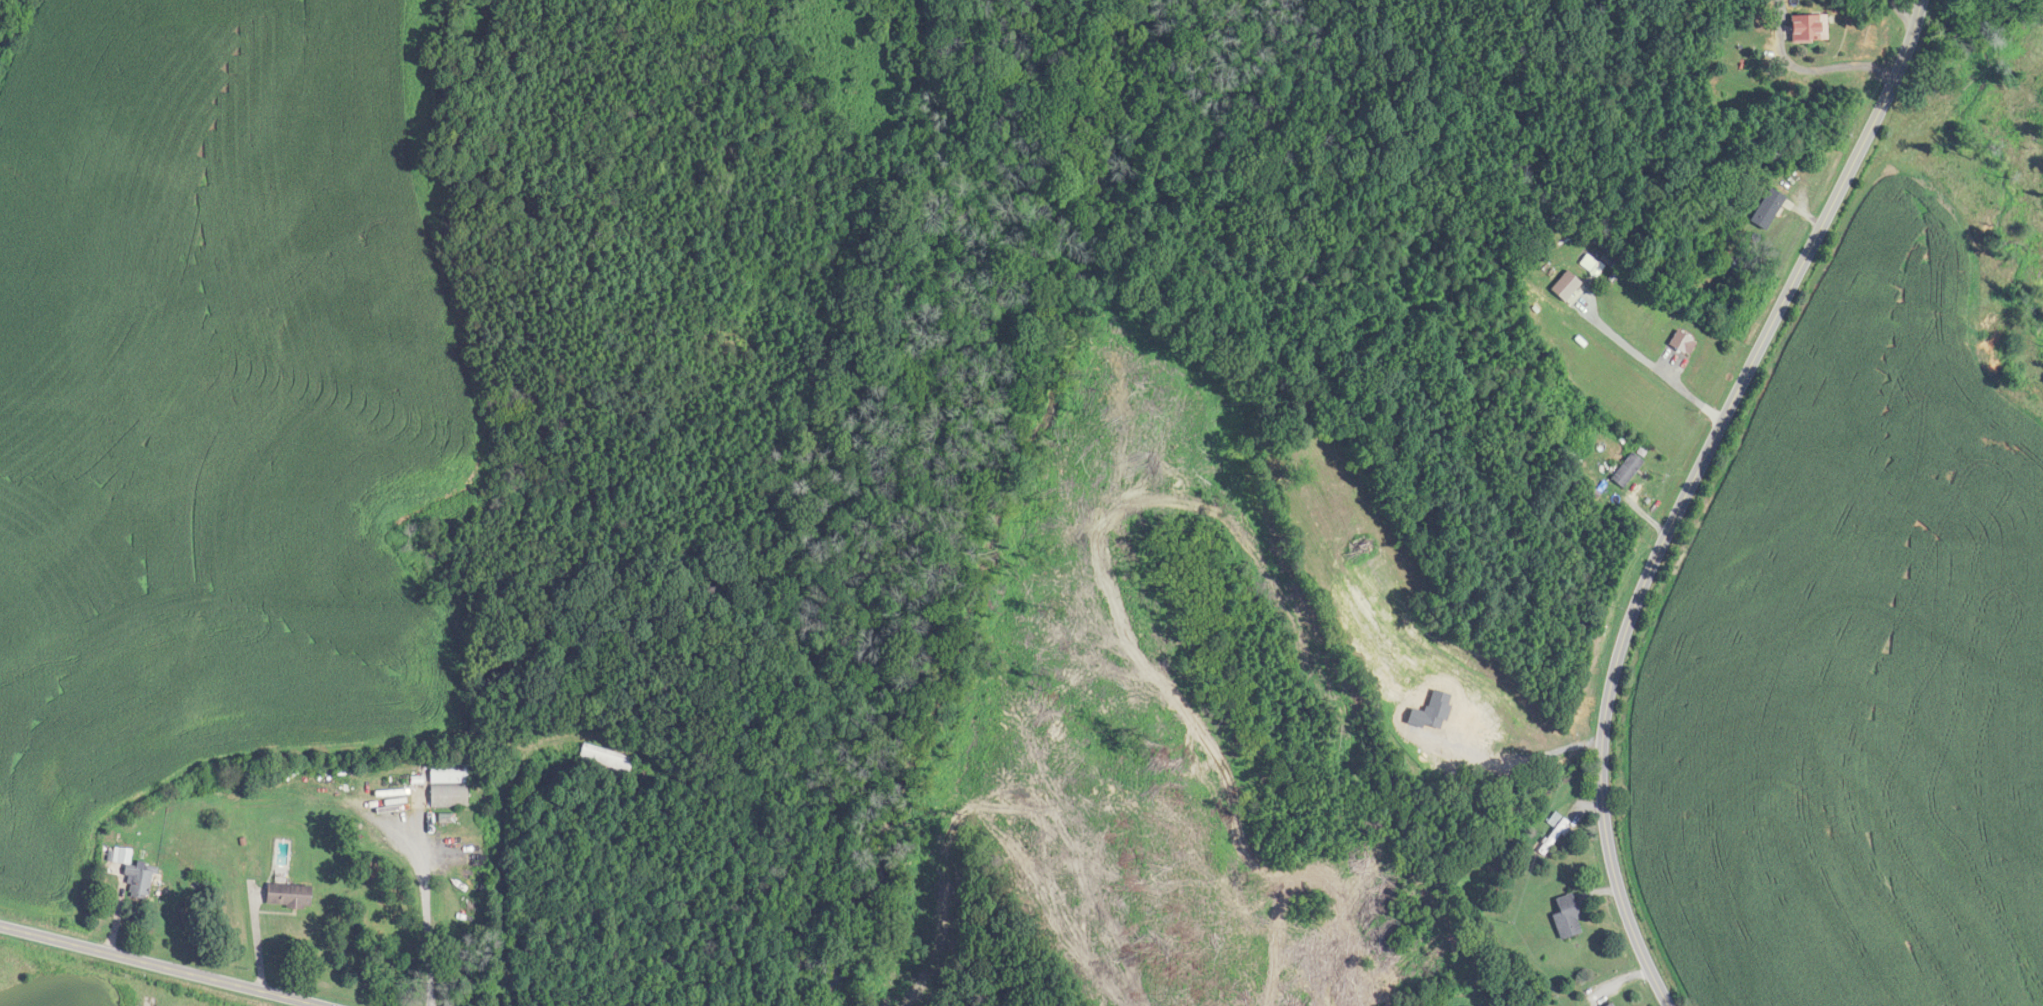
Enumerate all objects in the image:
road: (1904, 13)
road: (1810, 70)
building: (1771, 209)
building: (1685, 343)
road: (1653, 365)
building: (1629, 470)
road: (1688, 490)
road: (1641, 514)
building: (606, 762)
building: (451, 785)
building: (1556, 826)
building: (292, 895)
road: (426, 911)
building: (1566, 918)
road: (160, 966)
building: (1608, 1005)

